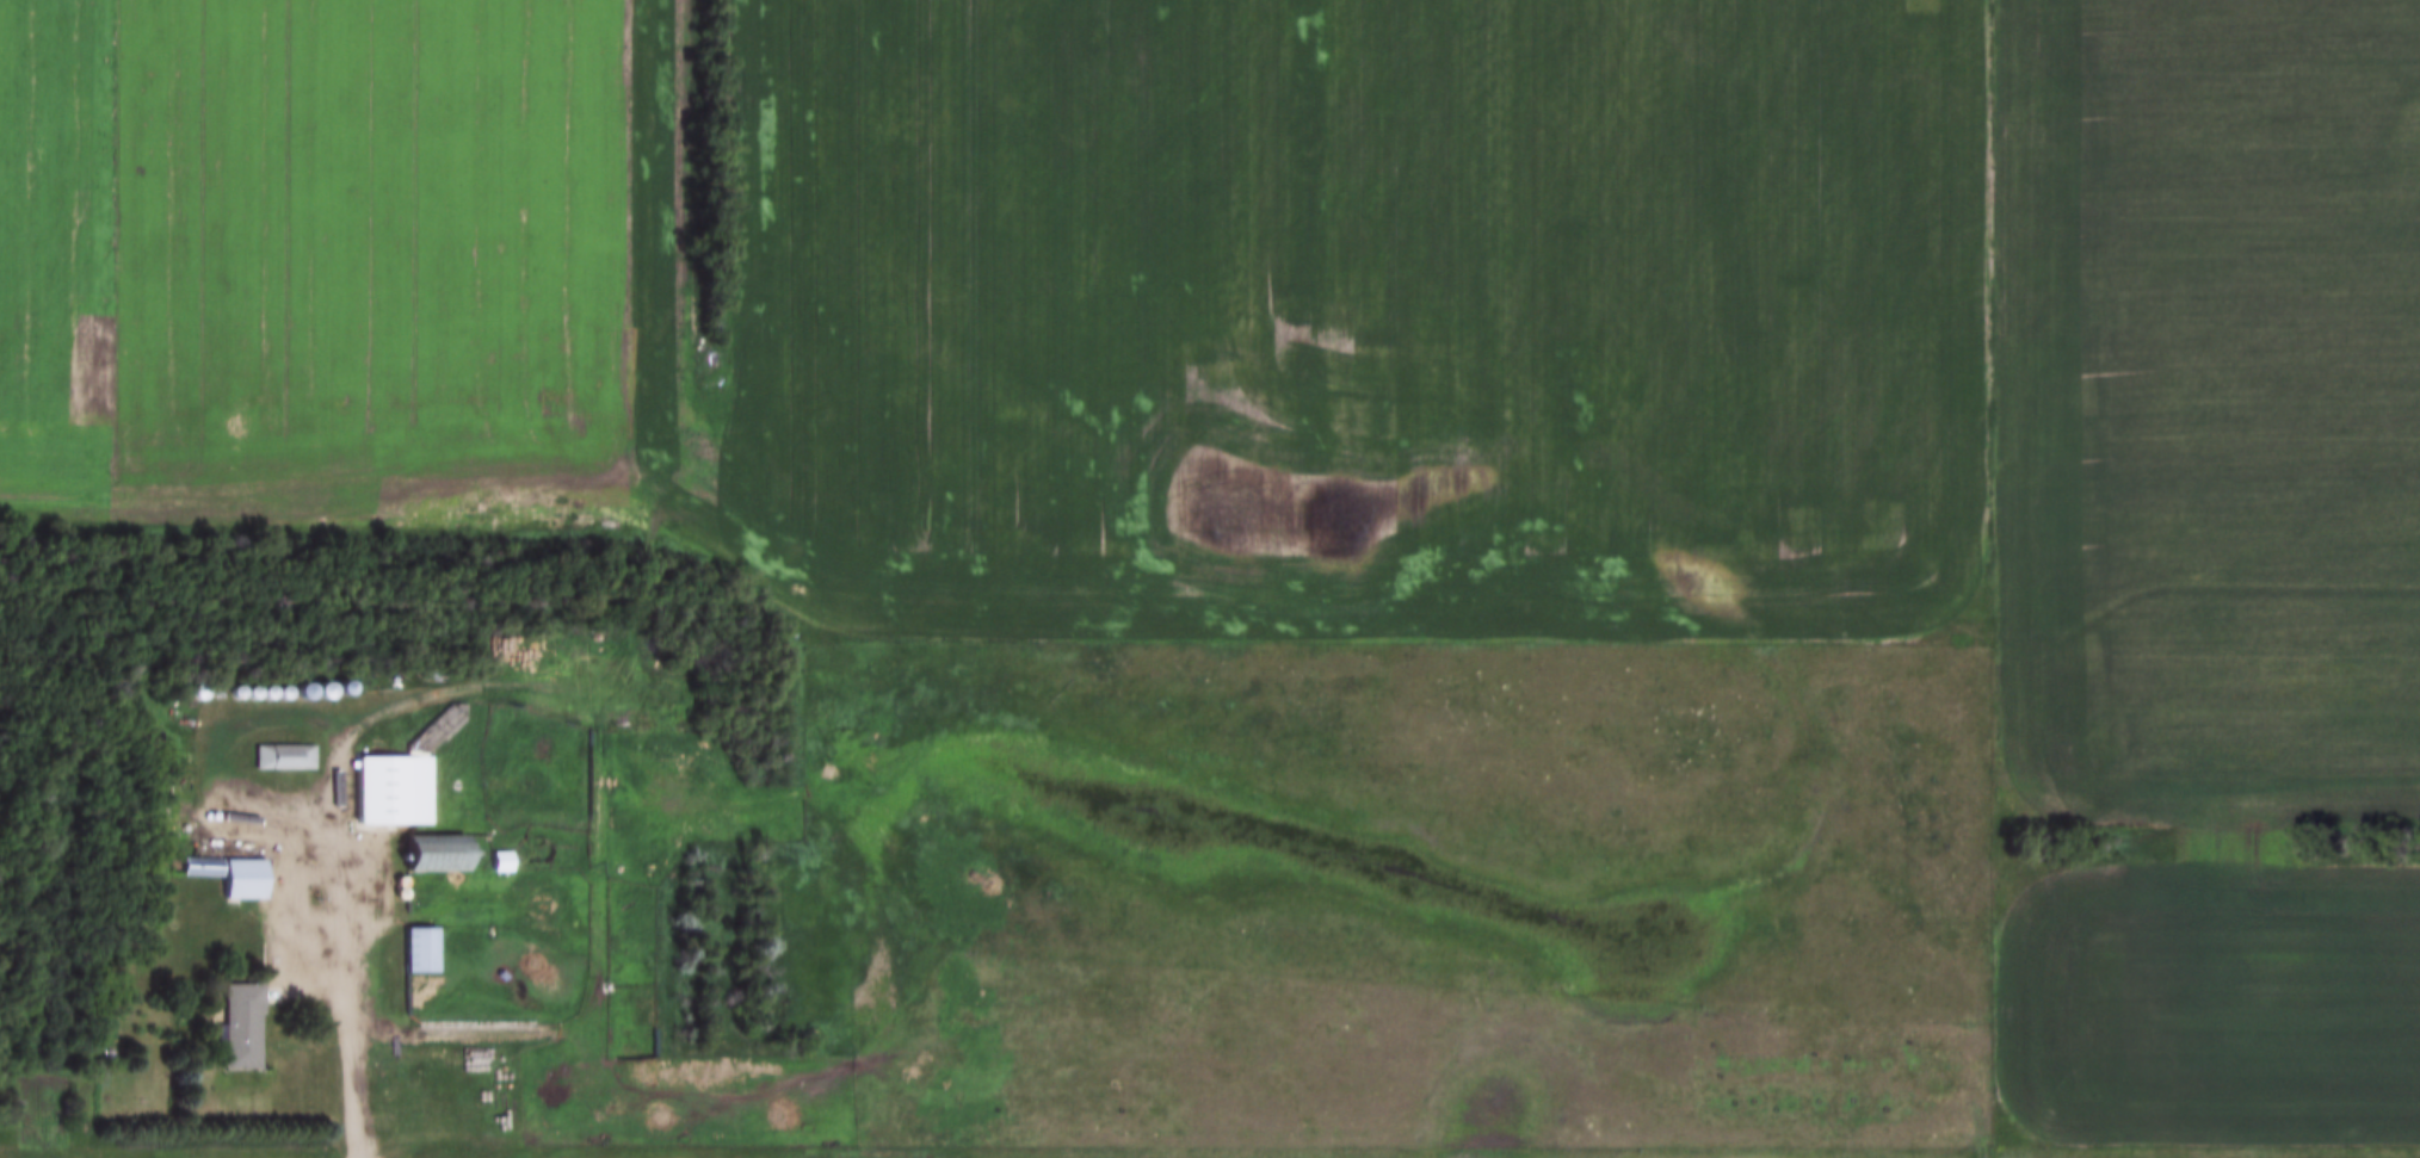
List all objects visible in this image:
road: (1989, 578)
building: (282, 756)
building: (390, 788)
road: (337, 853)
building: (433, 854)
building: (228, 874)
building: (418, 950)
building: (240, 1026)

